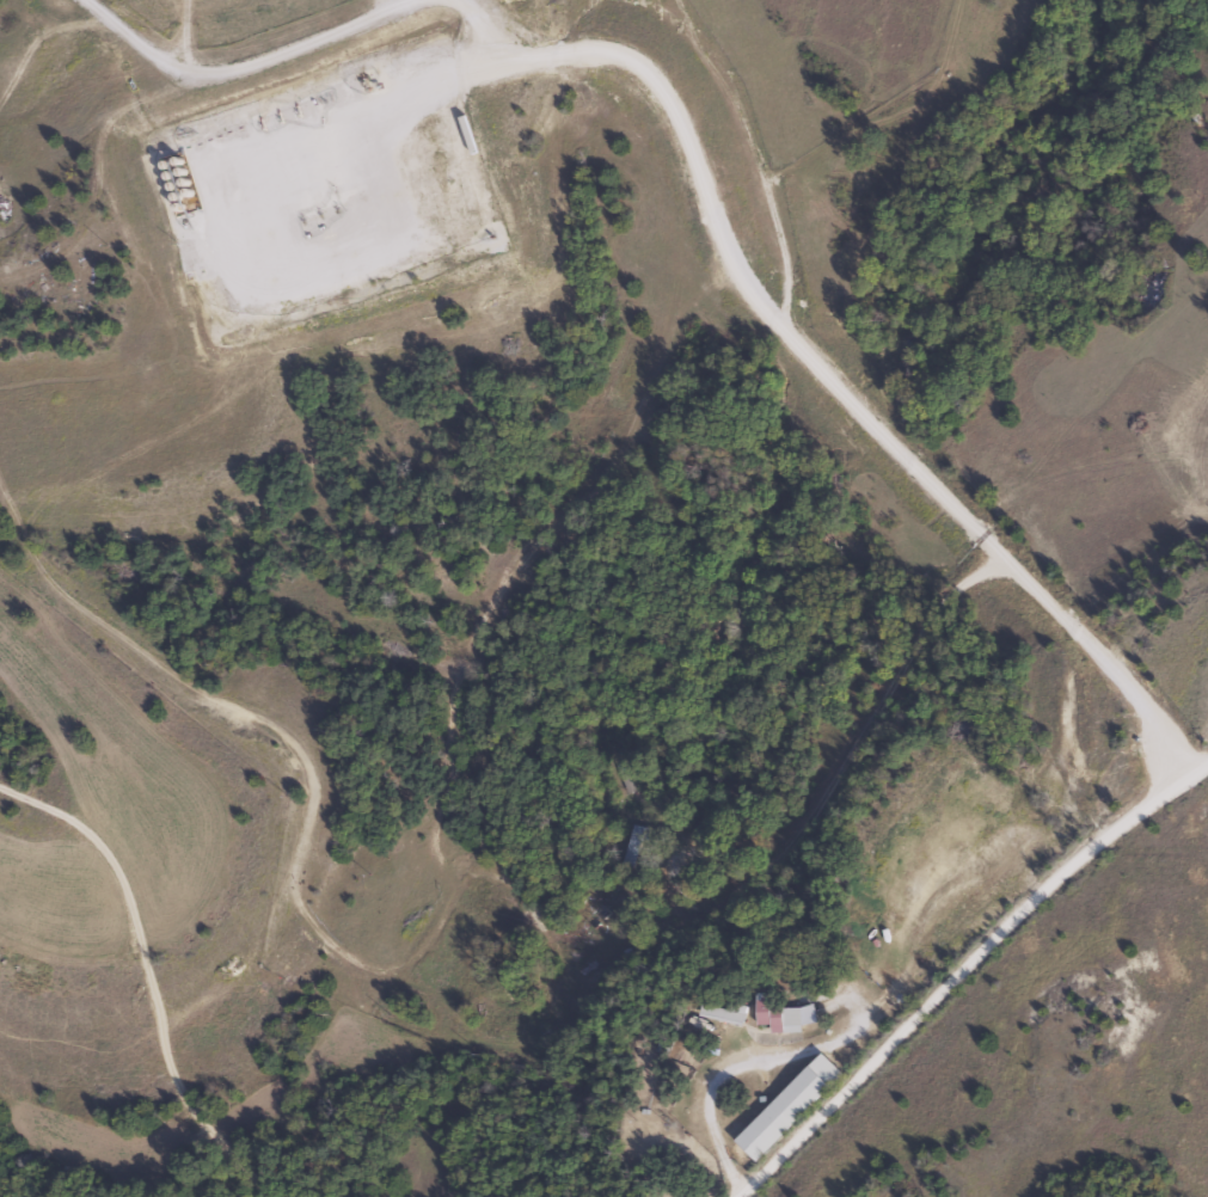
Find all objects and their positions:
road: (478, 42)
road: (231, 73)
road: (778, 327)
road: (847, 765)
building: (630, 847)
road: (965, 975)
building: (719, 1014)
building: (775, 1017)
building: (787, 1109)

